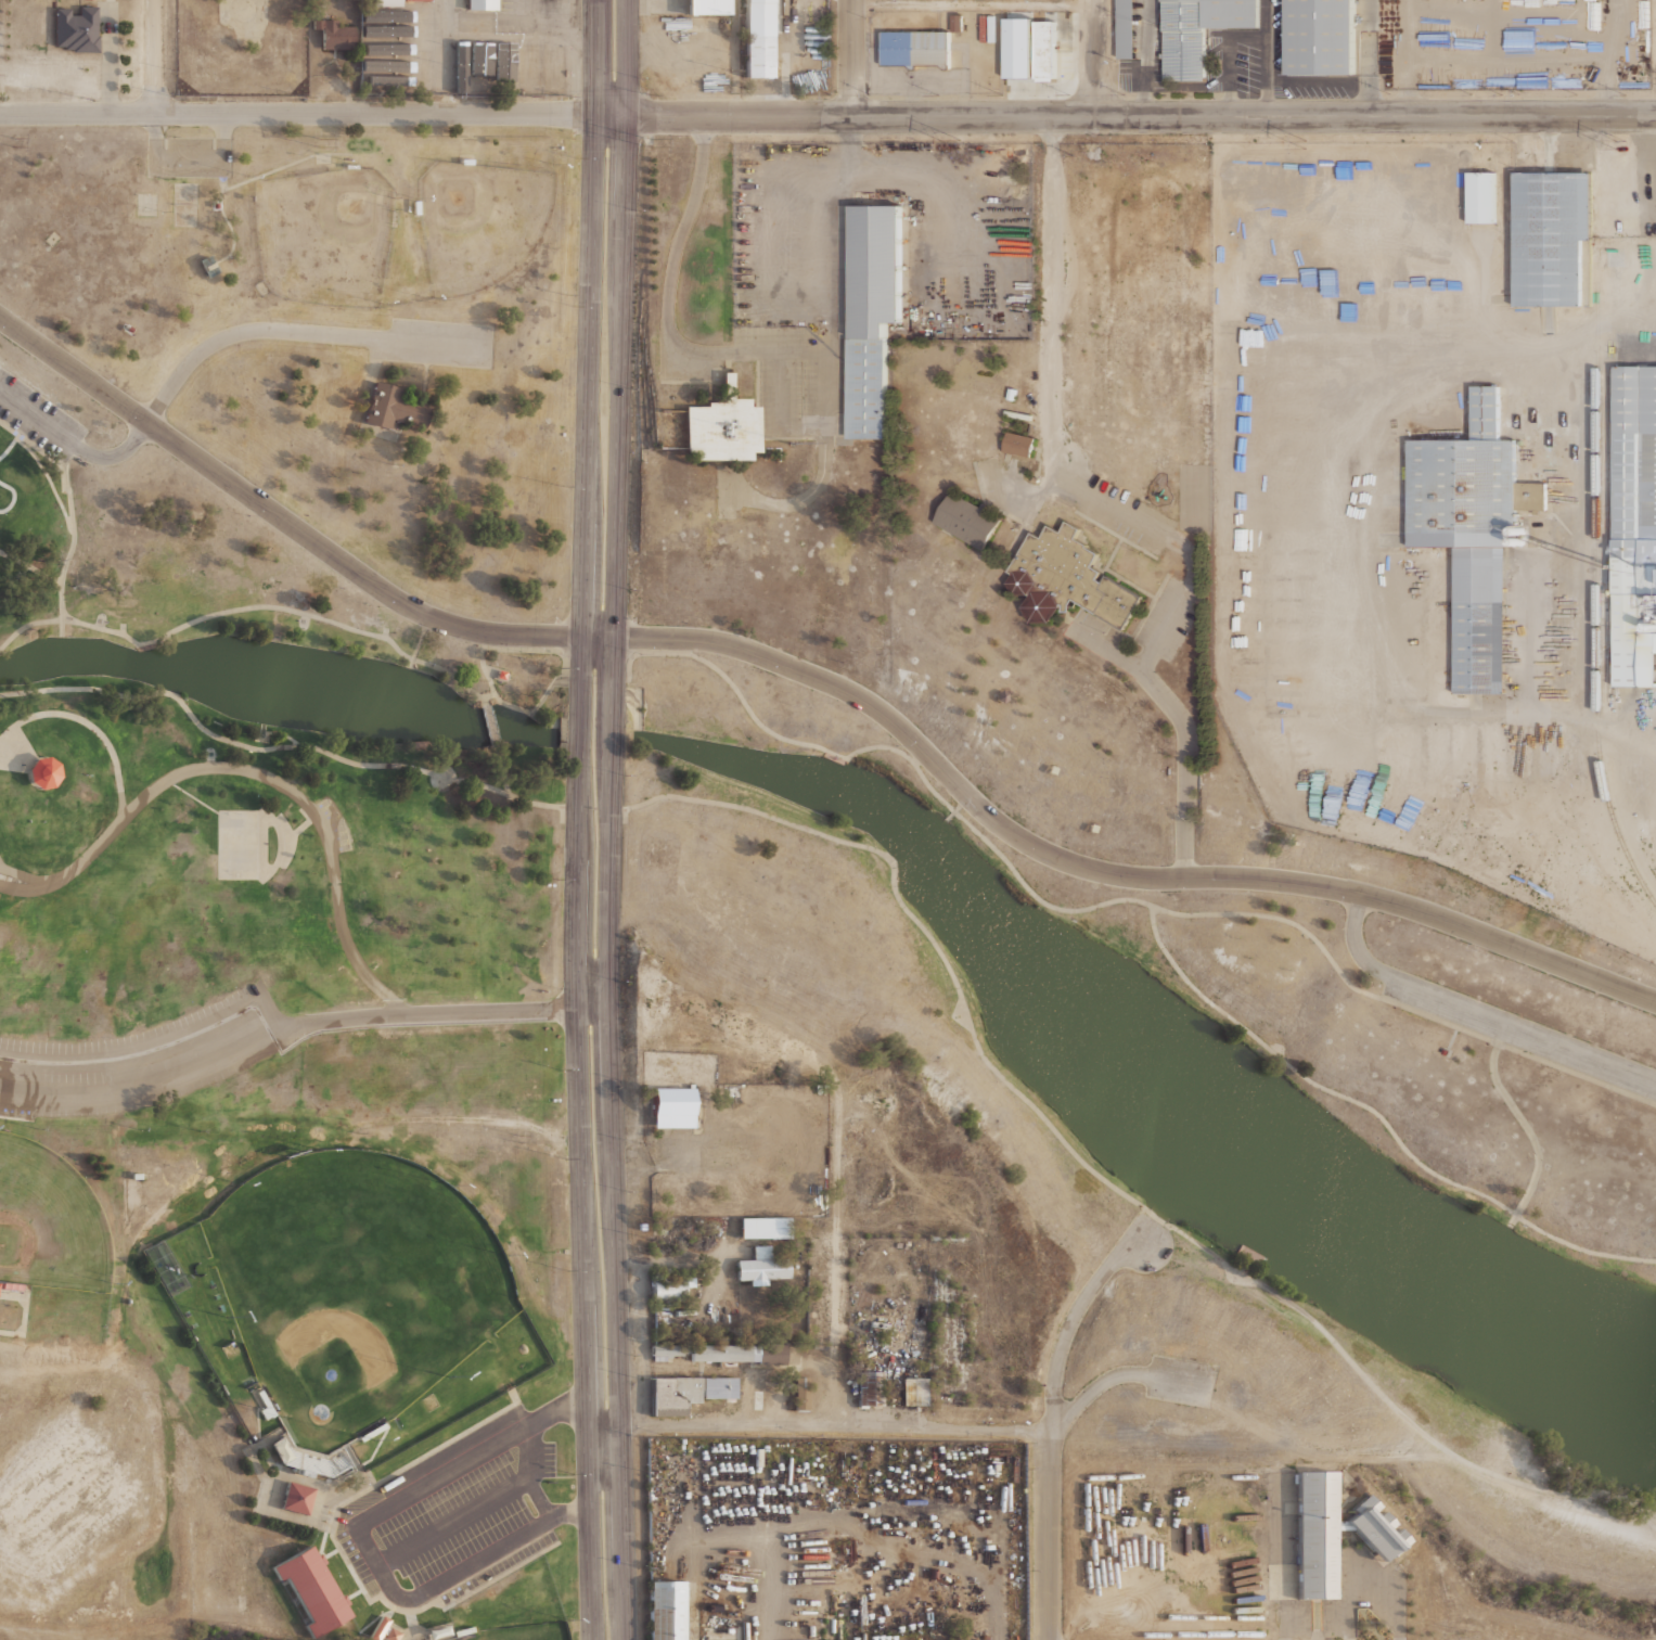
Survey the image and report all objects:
building: (413, 0)
building: (550, 0)
building: (386, 2)
building: (482, 4)
building: (708, 7)
road: (972, 7)
building: (384, 15)
road: (553, 25)
building: (1130, 28)
building: (75, 29)
building: (388, 29)
building: (1198, 31)
building: (334, 35)
building: (1321, 37)
building: (759, 39)
building: (915, 48)
building: (1044, 50)
road: (156, 55)
building: (386, 55)
road: (850, 56)
road: (1094, 57)
building: (502, 61)
building: (517, 63)
building: (529, 63)
building: (479, 64)
building: (445, 67)
building: (553, 68)
building: (460, 71)
building: (388, 79)
road: (827, 115)
road: (156, 136)
road: (224, 136)
power tower: (15, 142)
power tower: (653, 142)
power tower: (1616, 142)
power tower: (324, 143)
power tower: (1305, 143)
power tower: (959, 144)
parking lot: (189, 157)
road: (190, 161)
road: (284, 164)
building: (1481, 196)
park: (146, 202)
park: (184, 203)
road: (224, 215)
park: (479, 219)
park: (323, 234)
building: (1550, 235)
building: (207, 264)
road: (667, 305)
building: (873, 312)
park: (333, 325)
road: (251, 331)
parking lot: (441, 341)
road: (440, 343)
parking lot: (799, 382)
building: (395, 407)
parking lot: (38, 417)
building: (722, 426)
road: (804, 430)
road: (1055, 435)
road: (74, 444)
building: (1019, 444)
road: (9, 445)
road: (67, 476)
road: (49, 478)
road: (731, 489)
road: (13, 497)
road: (804, 498)
building: (968, 518)
building: (1634, 523)
building: (1473, 529)
road: (74, 538)
road: (33, 562)
building: (1067, 579)
road: (280, 605)
railway: (1596, 607)
road: (484, 669)
building: (501, 672)
road: (820, 677)
road: (511, 702)
road: (491, 721)
road: (1182, 723)
road: (89, 725)
road: (271, 746)
road: (504, 768)
building: (42, 771)
road: (254, 772)
road: (577, 820)
road: (612, 820)
parking lot: (335, 824)
park: (238, 843)
road: (1, 864)
road: (1013, 868)
road: (25, 874)
road: (932, 935)
road: (457, 1010)
road: (1476, 1013)
parking lot: (1518, 1035)
road: (147, 1049)
parking lot: (139, 1060)
park: (1201, 1069)
road: (157, 1079)
park: (272, 1079)
building: (669, 1107)
road: (1379, 1114)
road: (230, 1167)
park: (49, 1220)
building: (641, 1226)
building: (762, 1227)
building: (761, 1266)
park: (354, 1285)
building: (12, 1286)
building: (670, 1286)
road: (23, 1314)
building: (665, 1349)
building: (722, 1351)
building: (769, 1354)
road: (1118, 1374)
parking lot: (1182, 1380)
building: (868, 1388)
building: (913, 1392)
building: (685, 1393)
building: (800, 1394)
road: (1383, 1394)
road: (1052, 1424)
road: (820, 1427)
building: (296, 1498)
parking lot: (458, 1510)
building: (1328, 1533)
road: (362, 1539)
road: (1283, 1559)
road: (1369, 1578)
building: (313, 1589)
building: (665, 1611)
building: (384, 1630)
building: (463, 1630)
park: (521, 1632)

